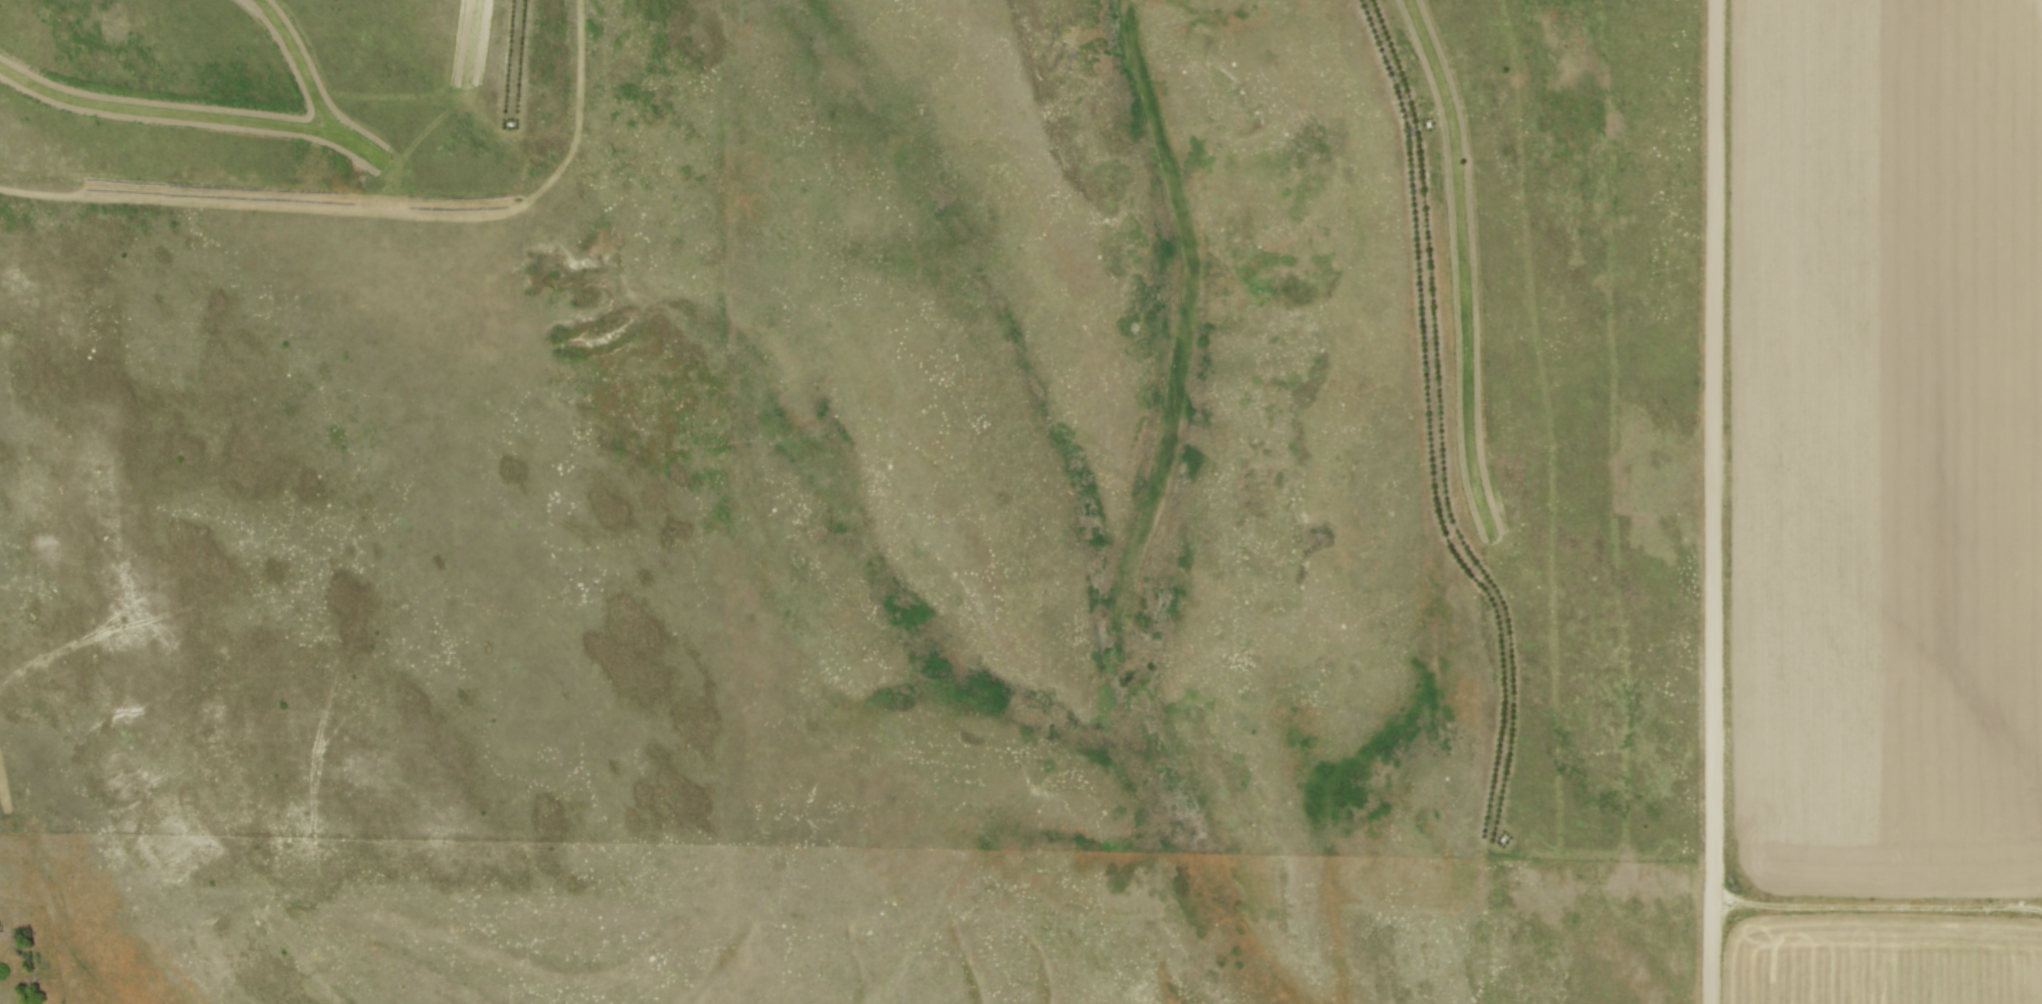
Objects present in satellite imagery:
road: (1709, 501)
road: (1874, 908)

